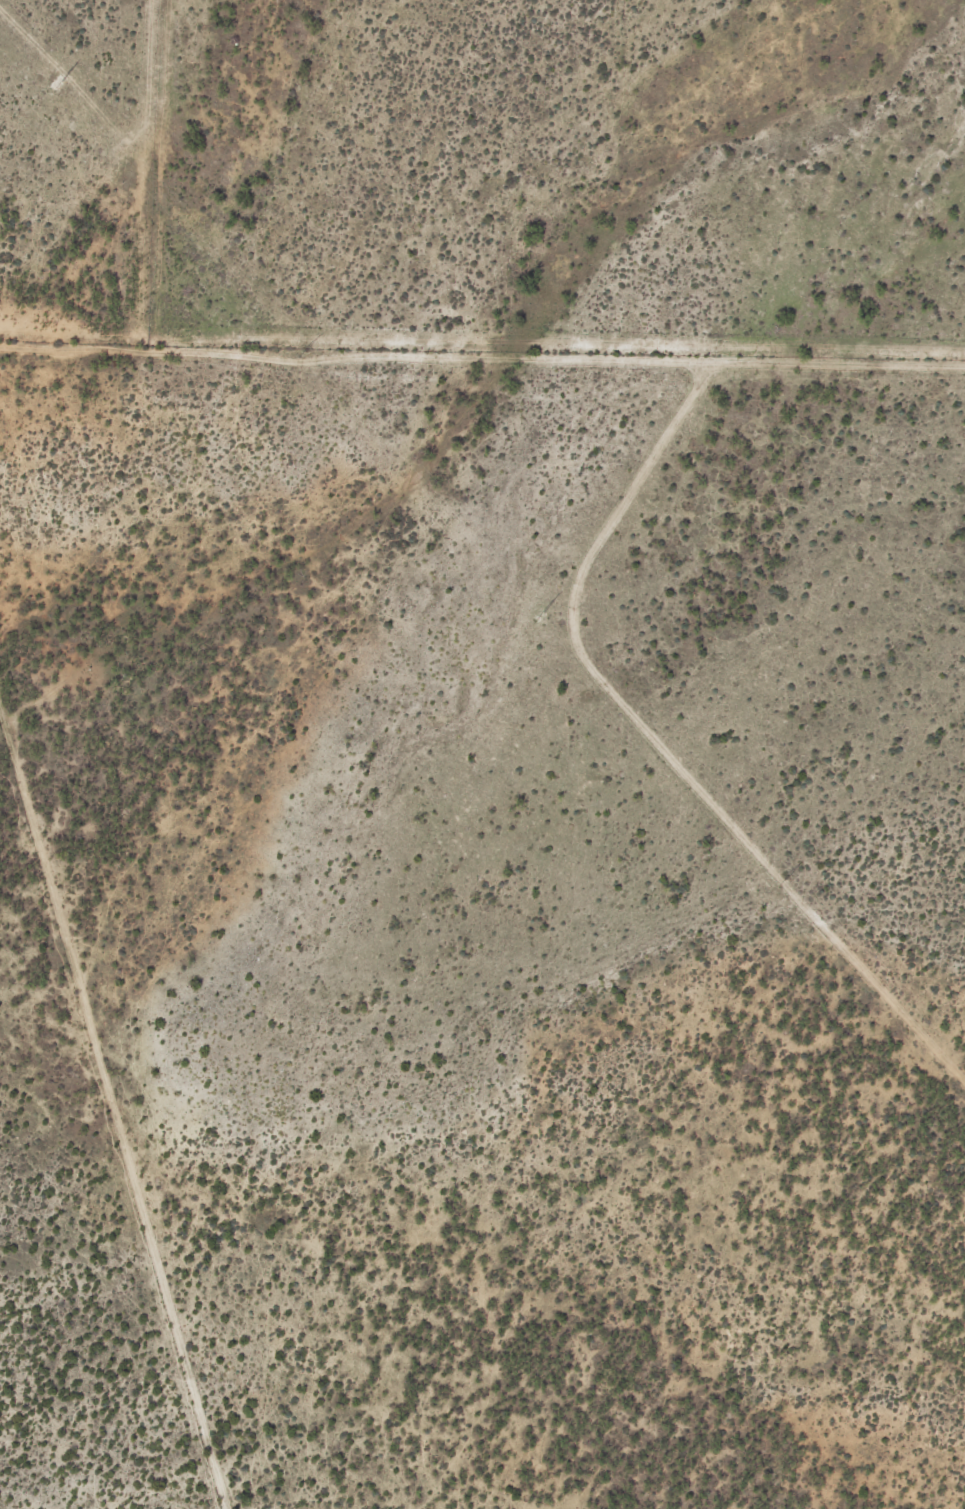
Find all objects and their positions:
road: (76, 85)
power tower: (57, 86)
road: (152, 172)
power tower: (301, 355)
road: (482, 357)
power tower: (538, 616)
road: (662, 743)
power tower: (781, 884)
road: (113, 1099)

